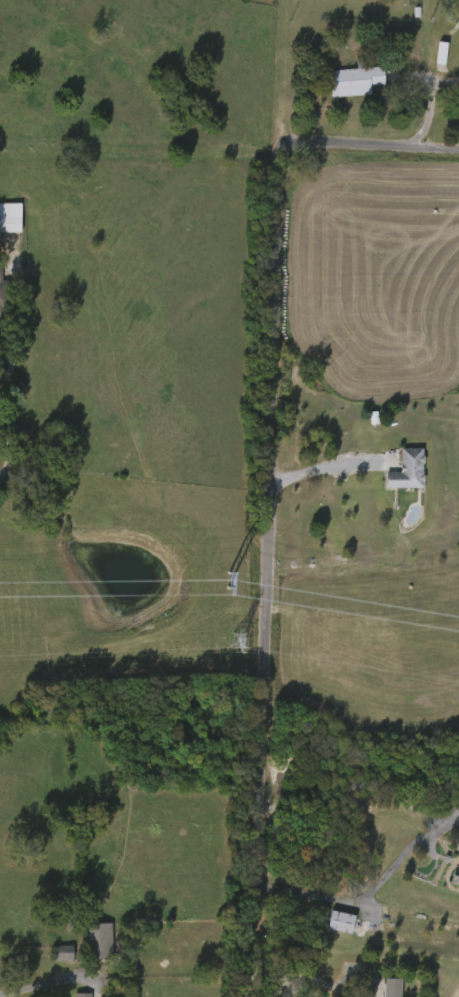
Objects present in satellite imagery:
building: (356, 83)
building: (11, 219)
building: (1, 294)
road: (21, 365)
road: (326, 471)
building: (410, 472)
road: (270, 486)
power tower: (229, 587)
building: (458, 882)
road: (365, 902)
building: (342, 923)
building: (98, 942)
building: (64, 954)
road: (361, 974)
road: (292, 981)
building: (394, 988)
road: (40, 990)
road: (339, 993)
building: (83, 995)

